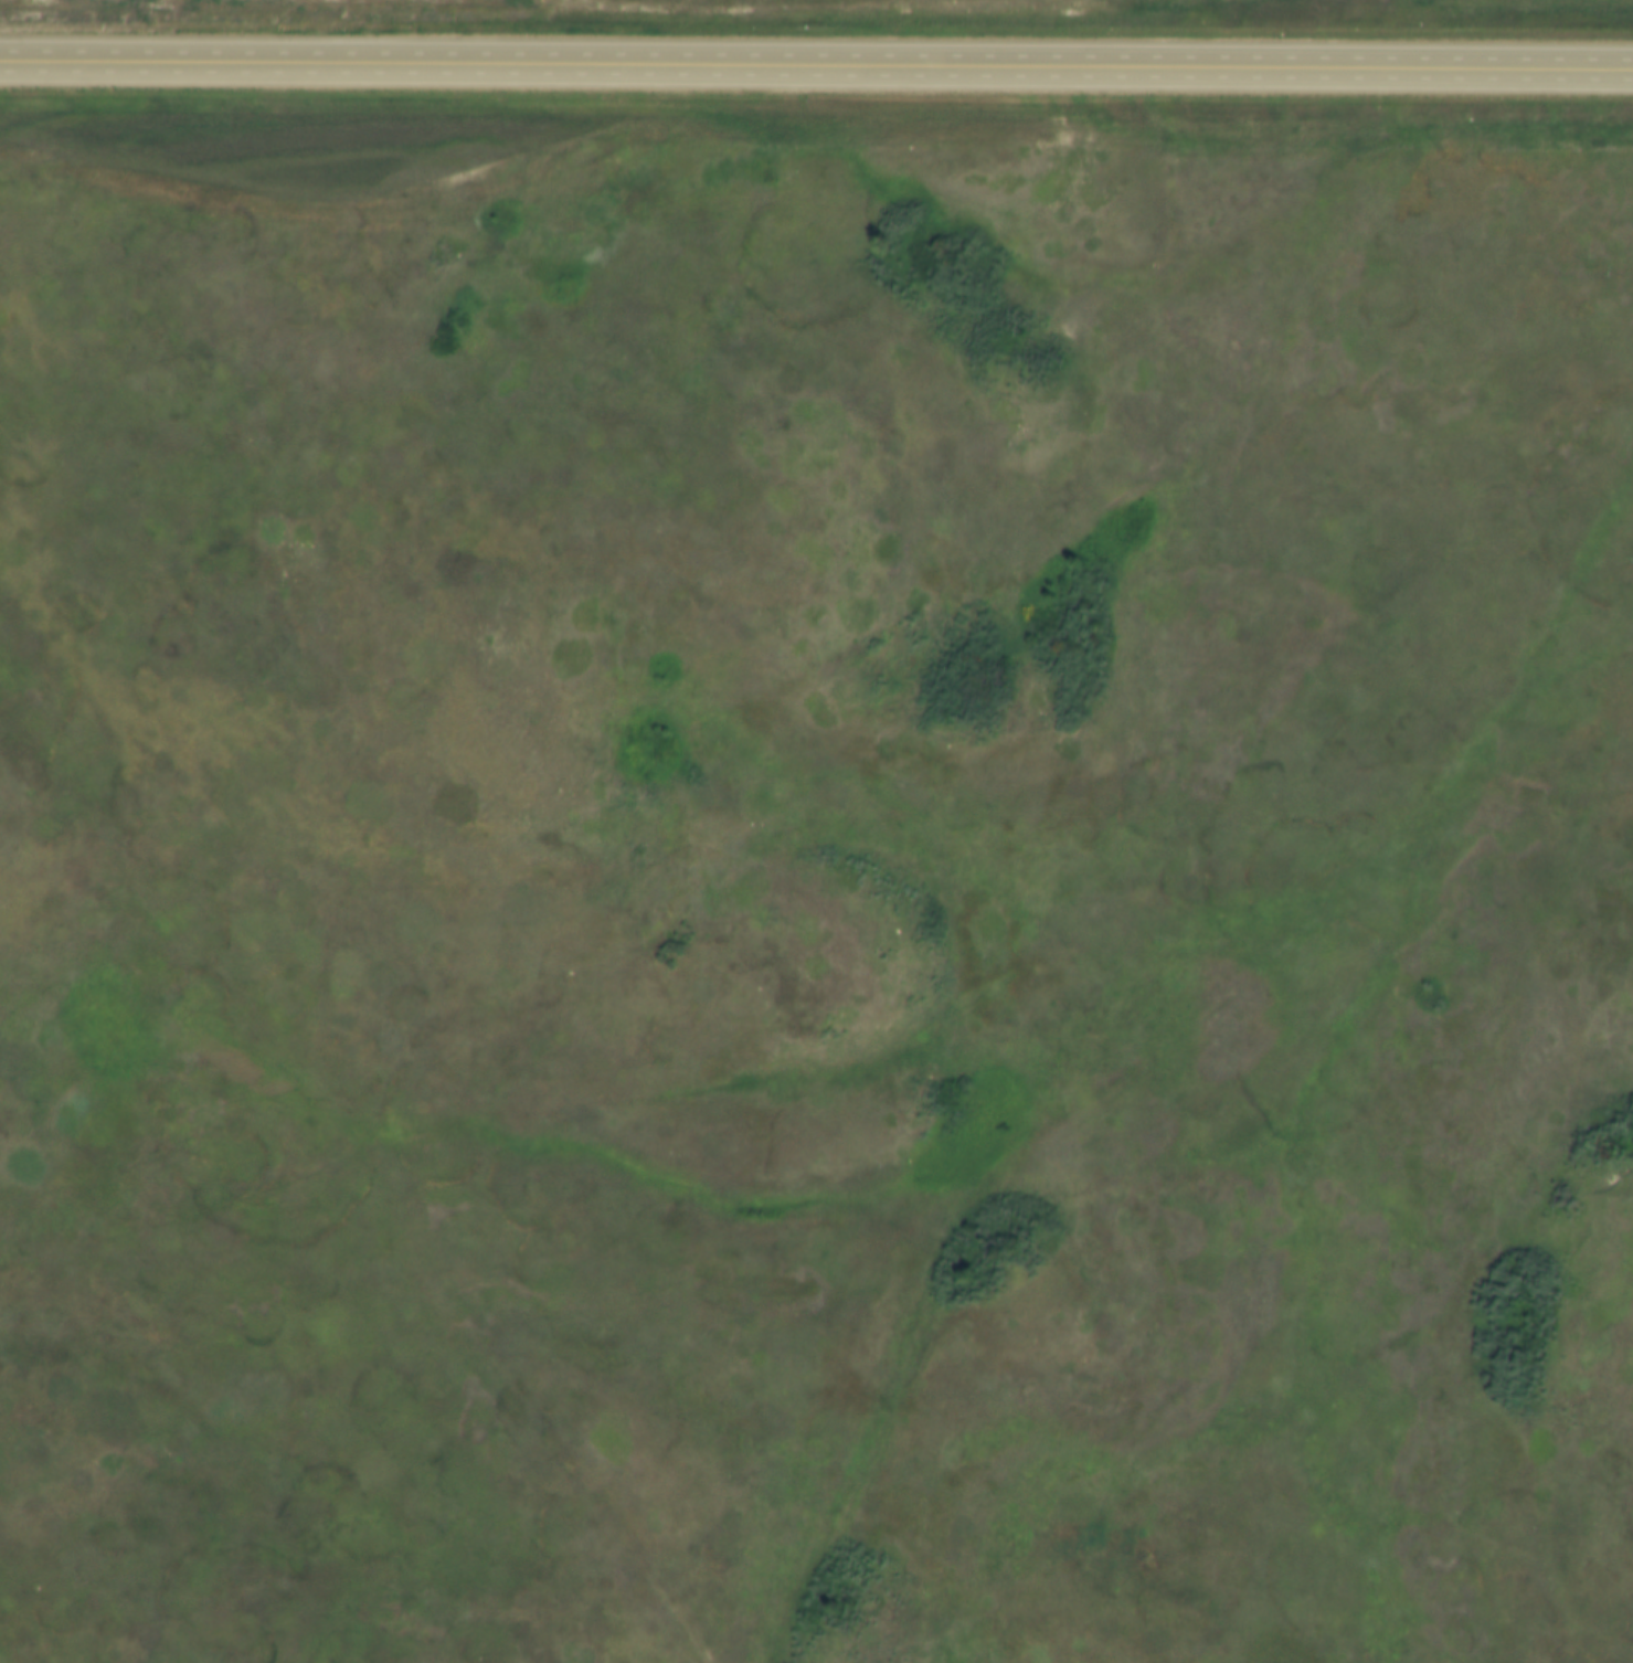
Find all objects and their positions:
road: (816, 60)

